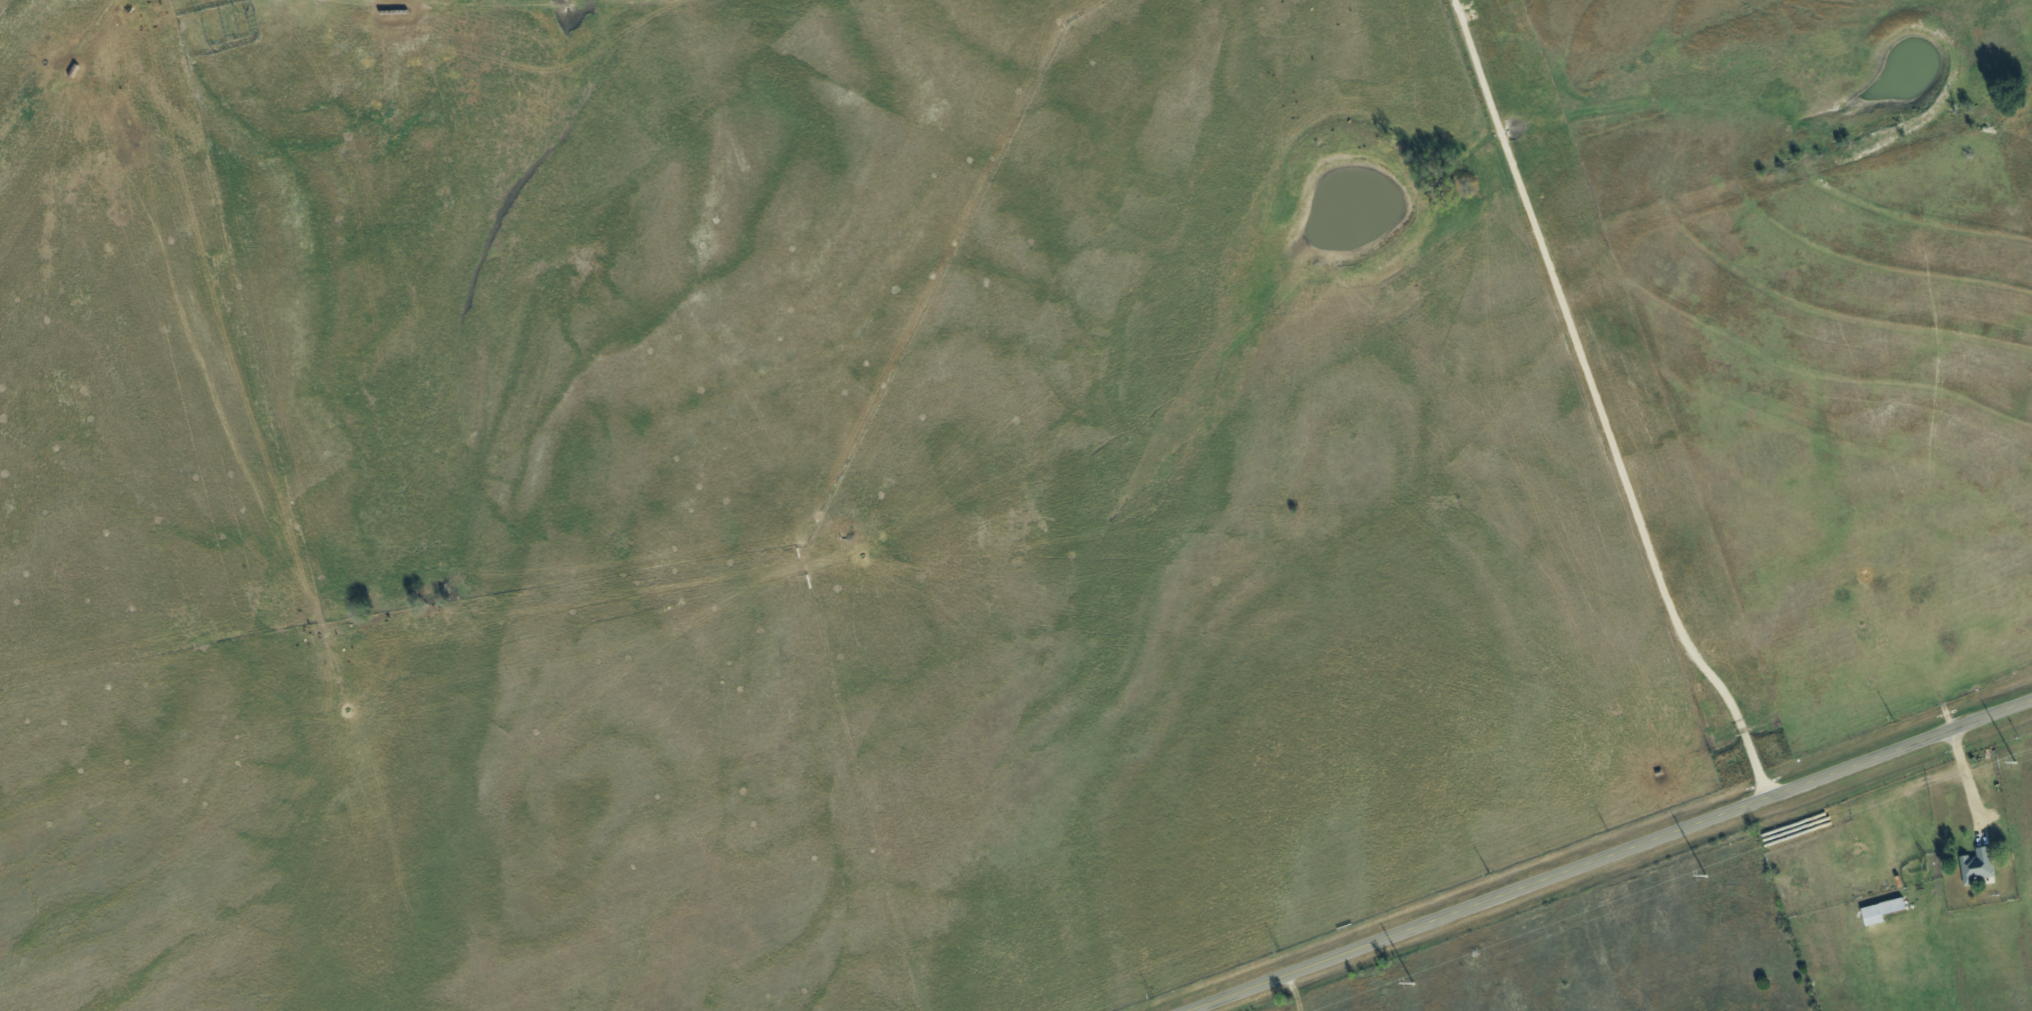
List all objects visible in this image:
road: (1596, 405)
power tower: (2014, 762)
road: (1964, 785)
road: (1610, 856)
building: (1976, 865)
power tower: (1703, 877)
building: (1879, 910)
power tower: (1410, 984)

